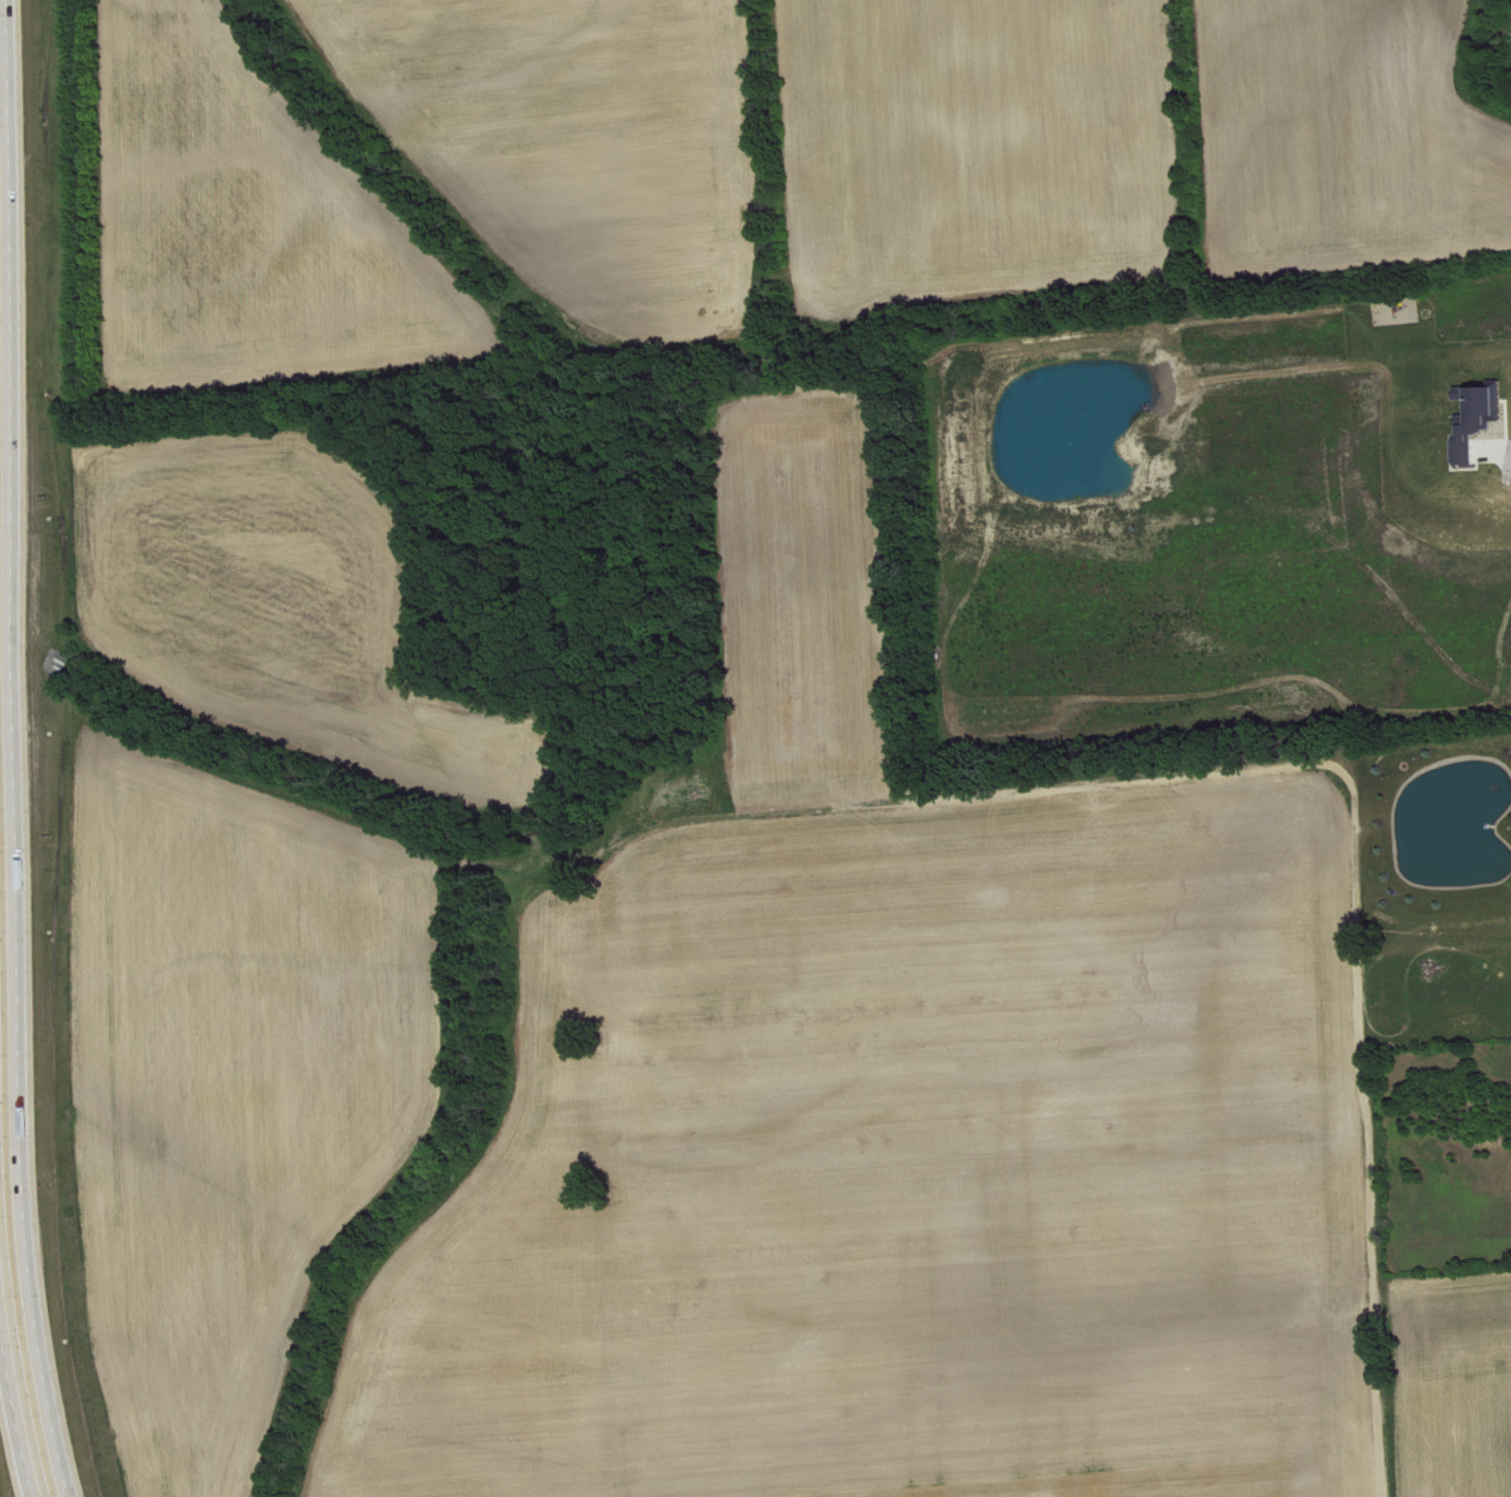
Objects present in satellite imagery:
building: (1482, 420)
road: (1508, 452)
road: (14, 750)
road: (1355, 914)
road: (17, 1381)

